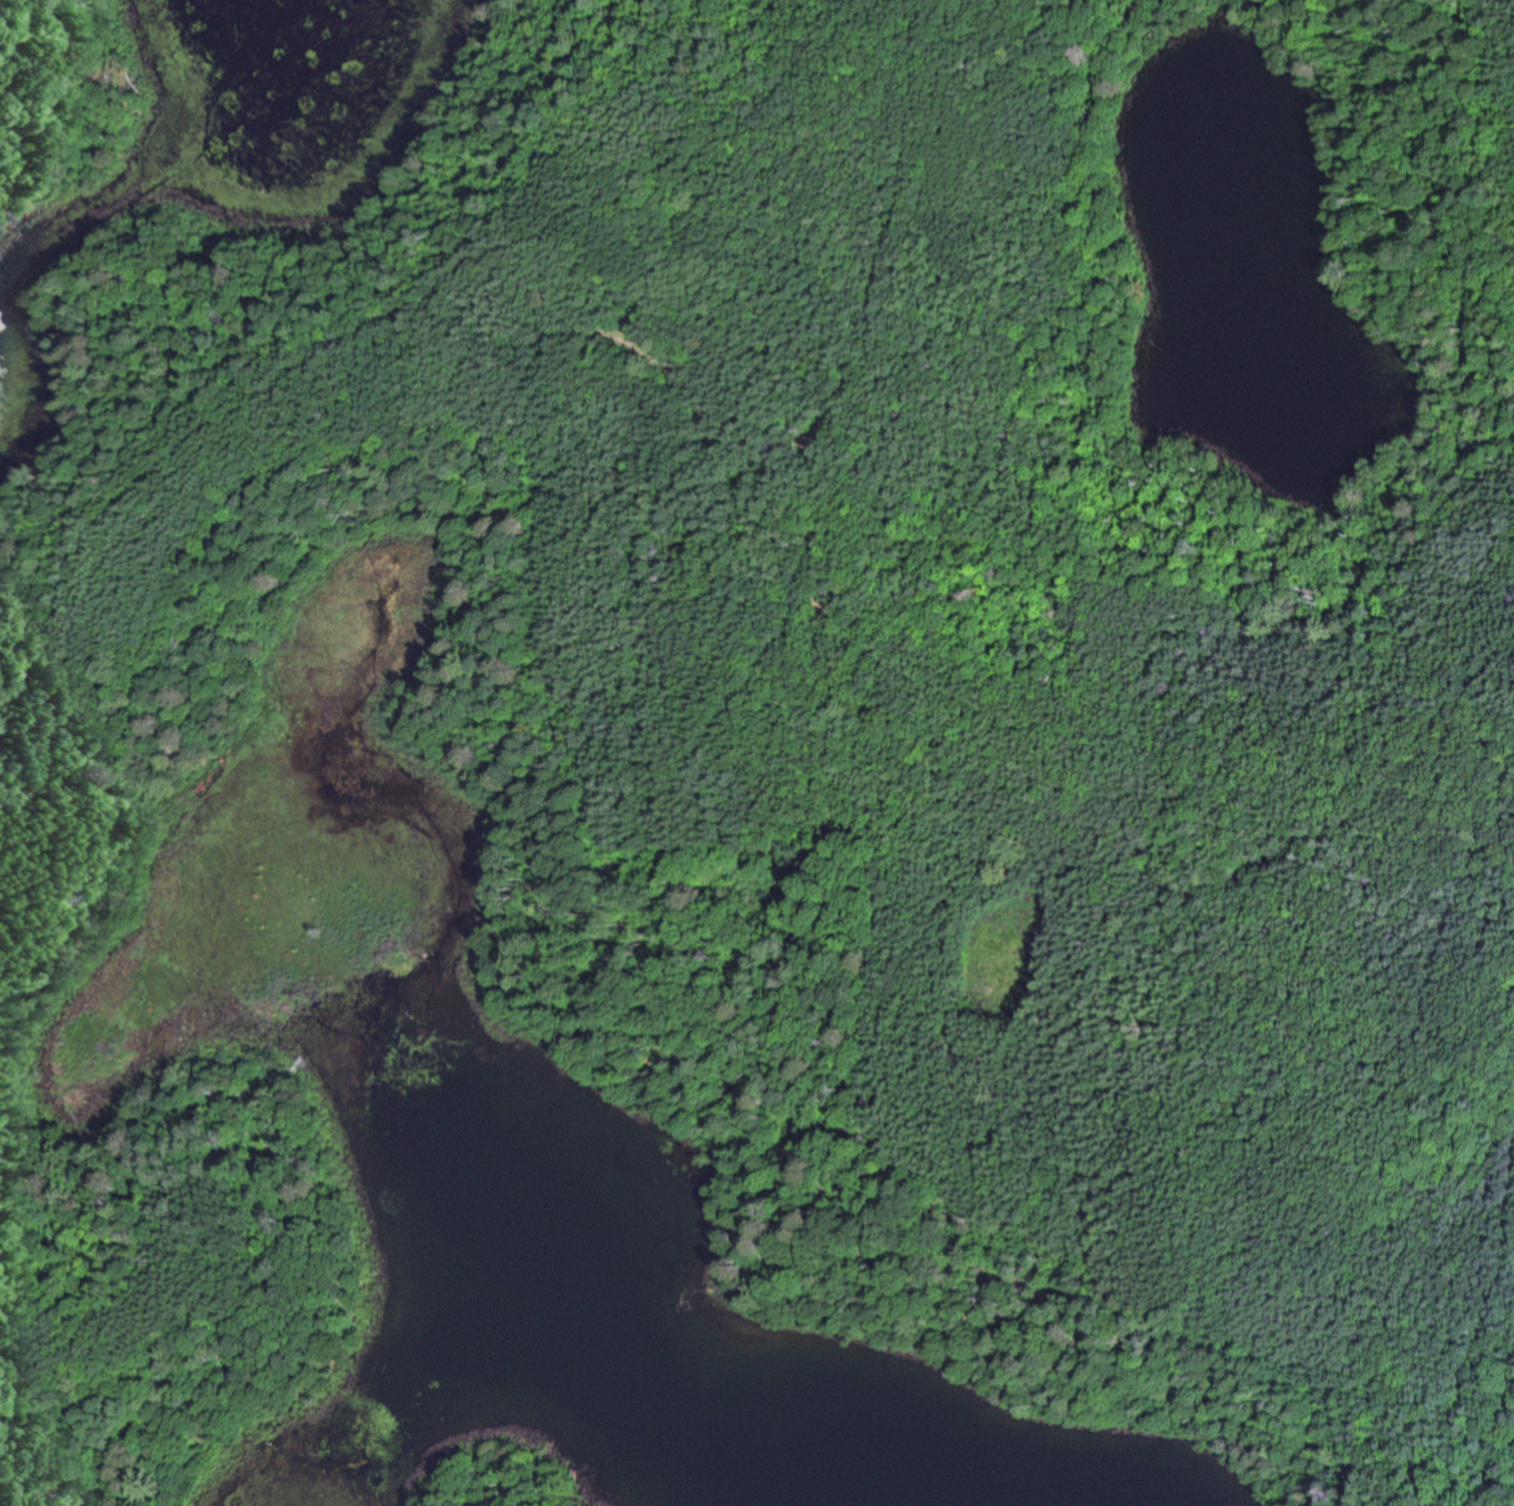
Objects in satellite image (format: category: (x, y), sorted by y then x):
road: (336, 355)
road: (839, 420)

